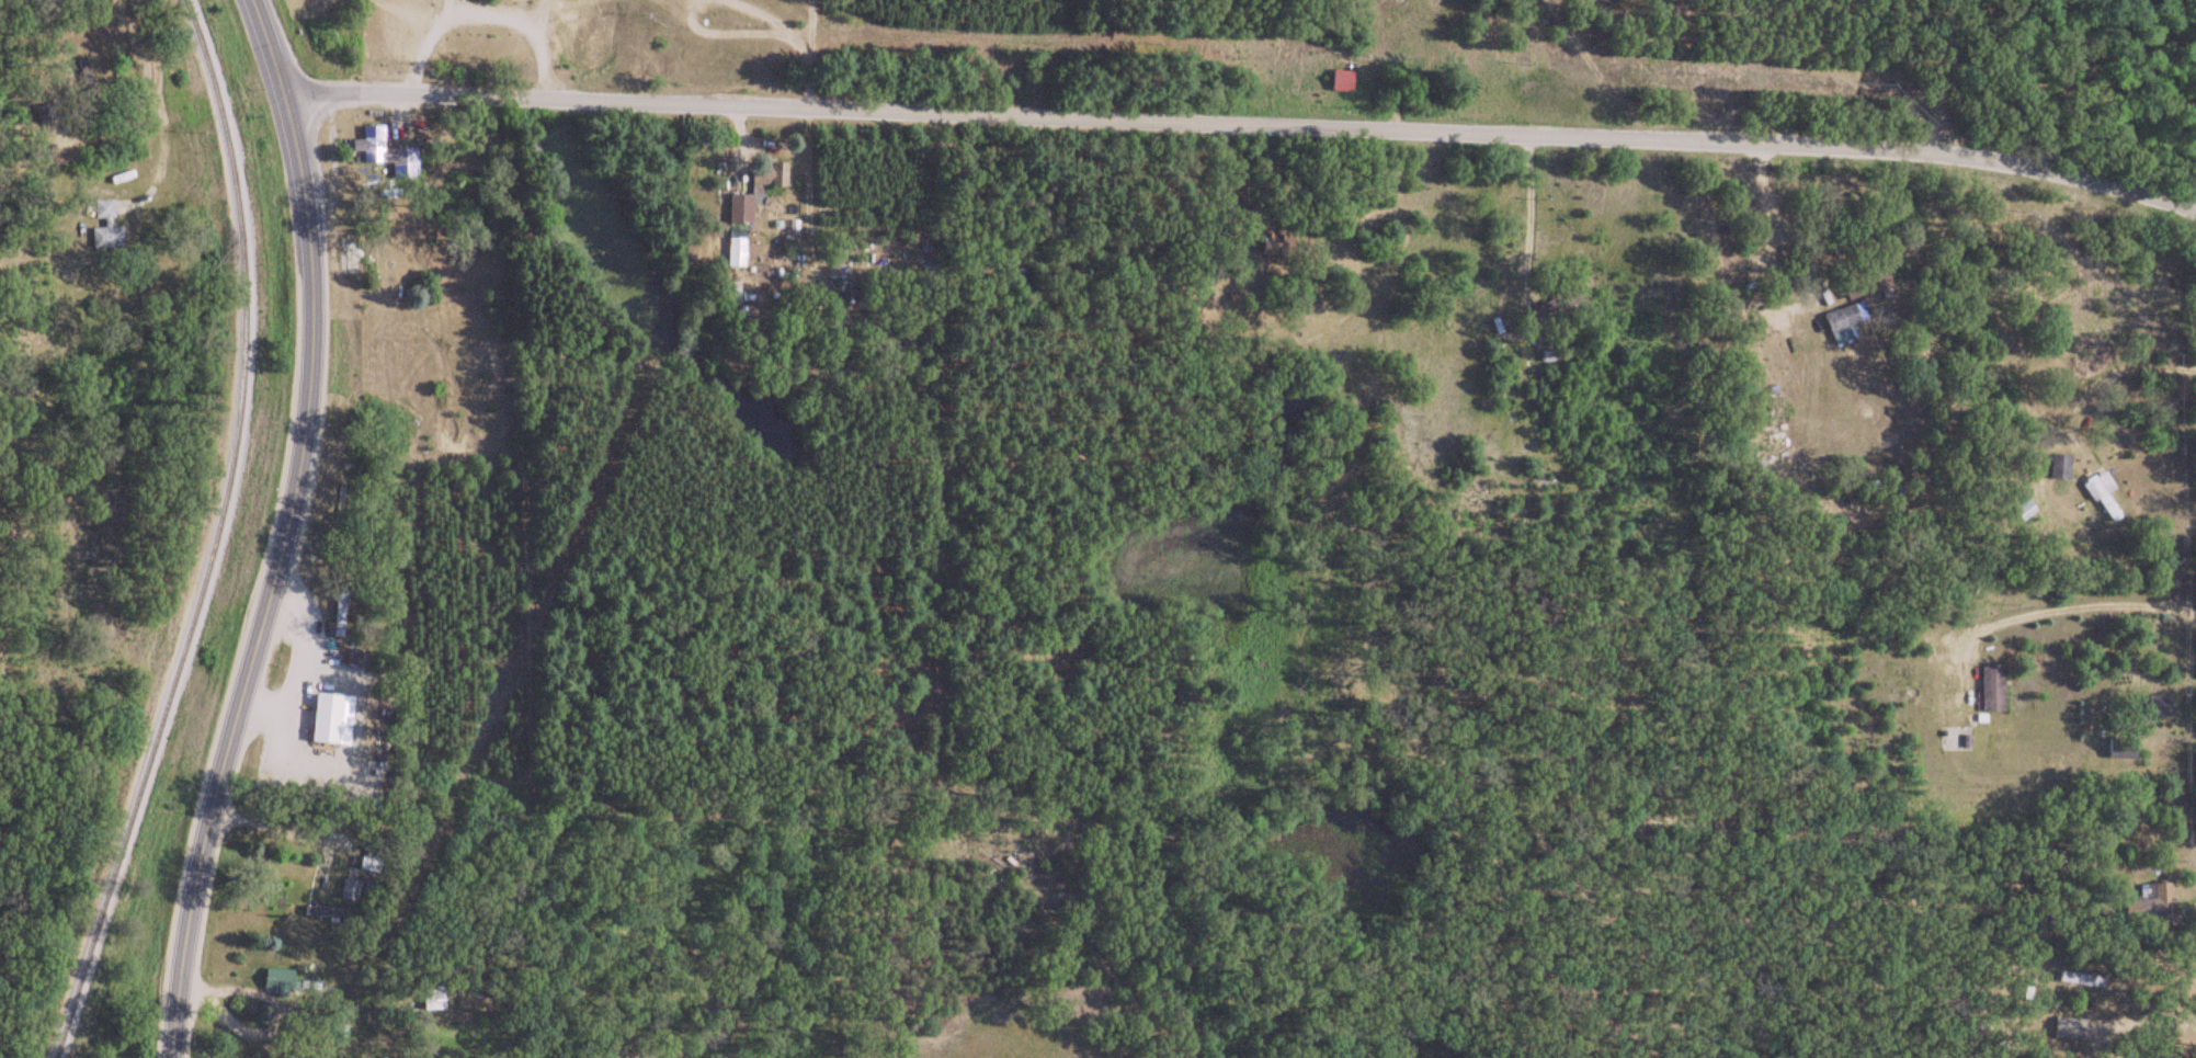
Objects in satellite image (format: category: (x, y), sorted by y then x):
road: (140, 30)
road: (1243, 124)
road: (95, 133)
building: (386, 152)
building: (767, 180)
building: (735, 253)
building: (1867, 285)
building: (1842, 323)
building: (2097, 502)
road: (272, 531)
railway: (200, 535)
building: (1992, 690)
building: (327, 717)
building: (2121, 750)
building: (350, 890)
building: (280, 980)
building: (2066, 1027)

